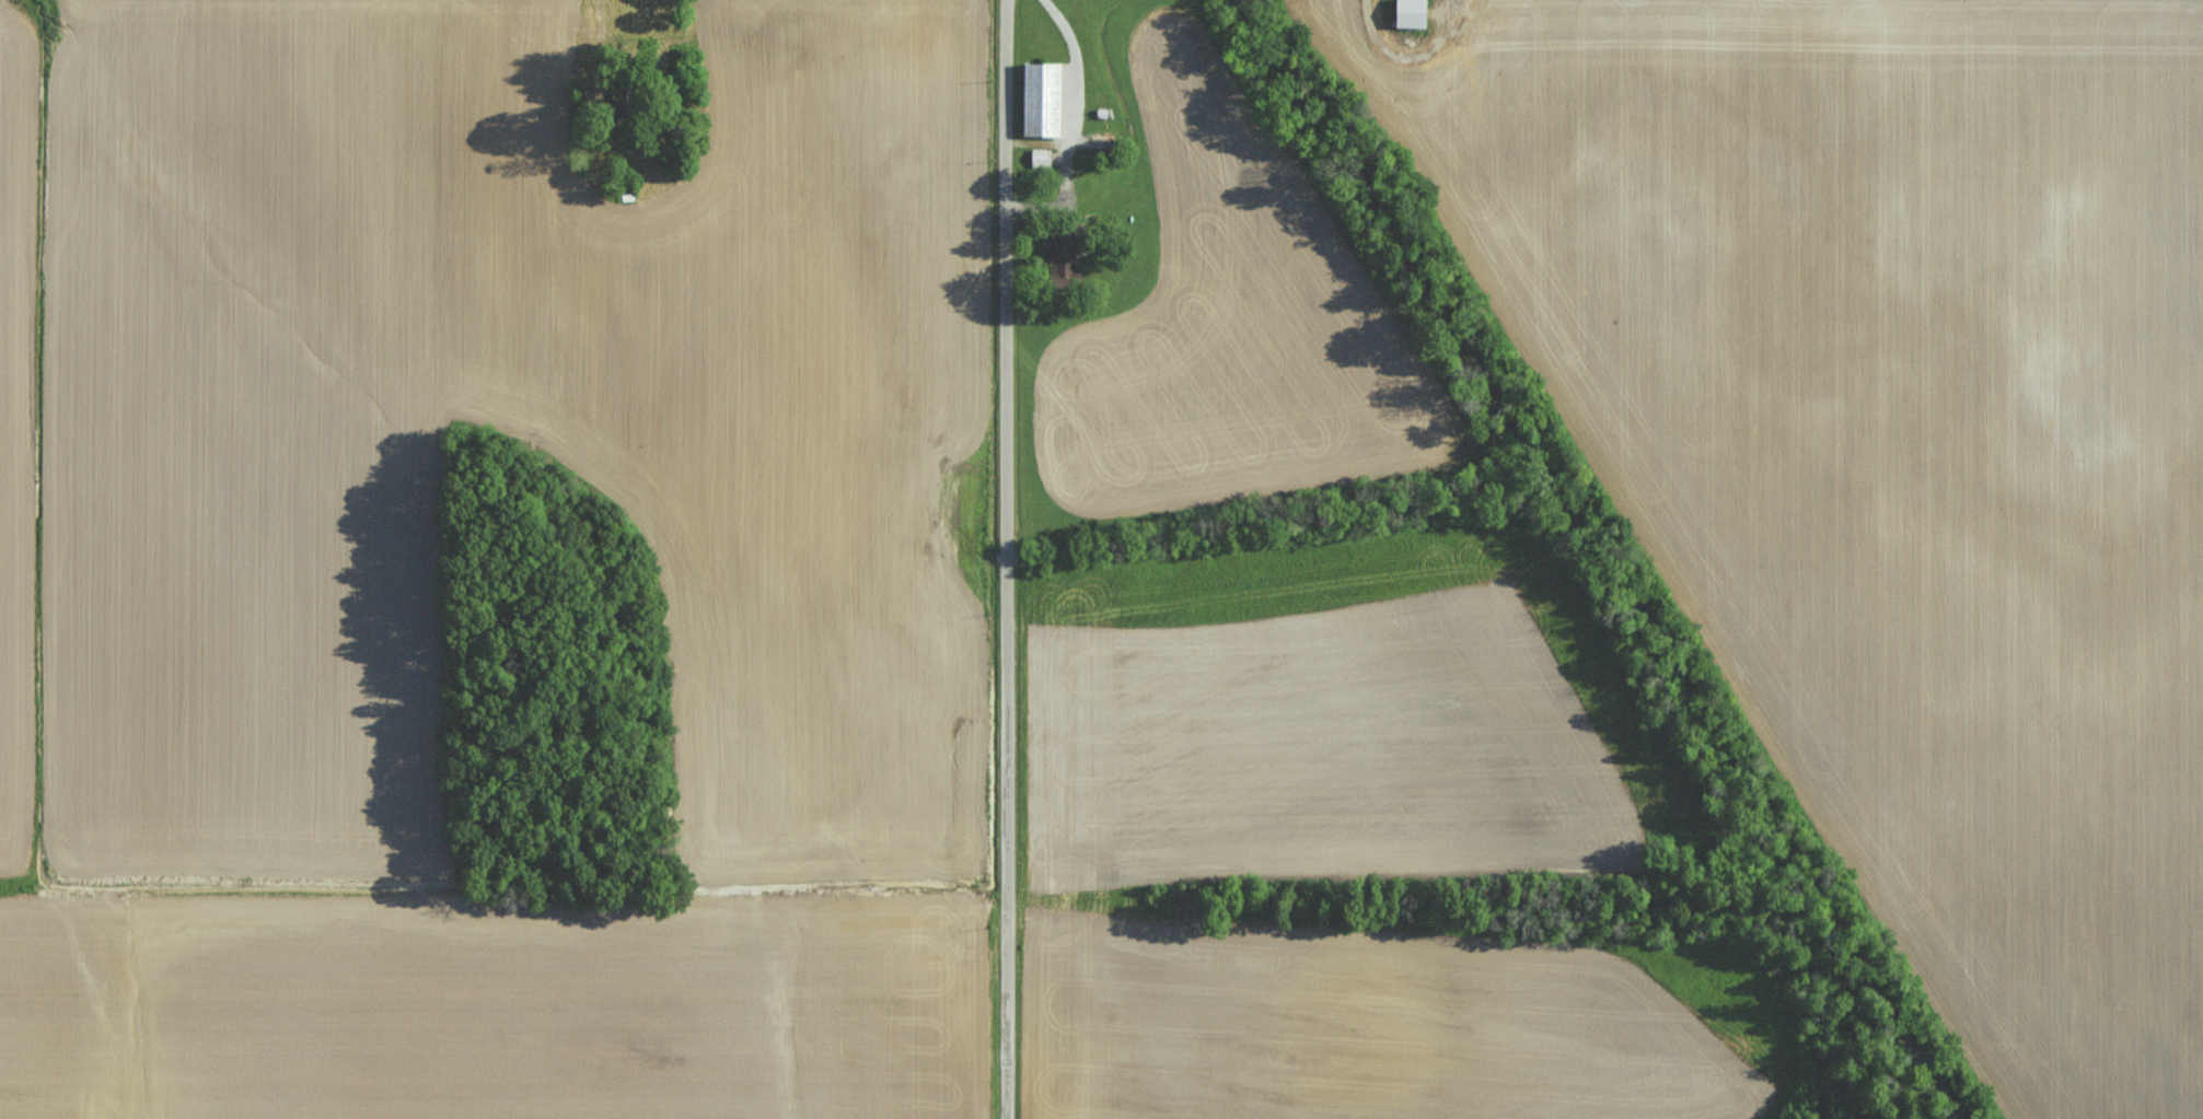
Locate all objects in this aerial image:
building: (1405, 13)
building: (1037, 100)
building: (1039, 156)
building: (1057, 259)
road: (1023, 559)

